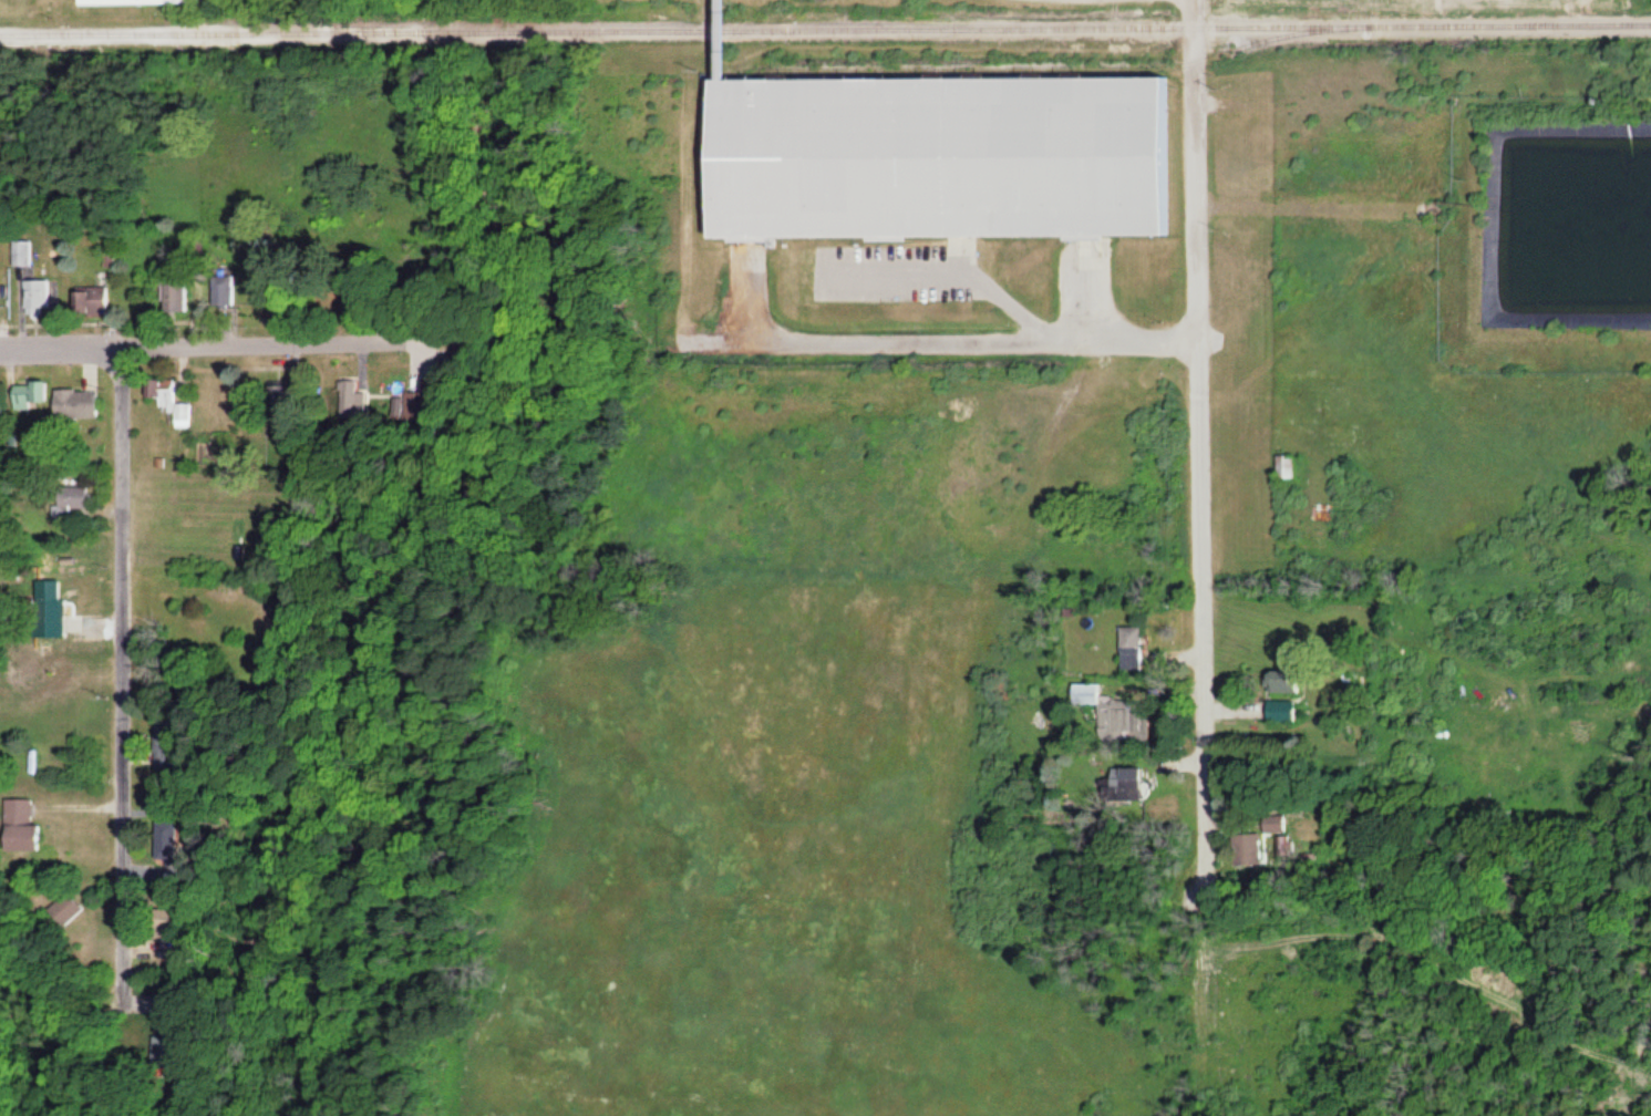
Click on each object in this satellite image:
building: (128, 2)
railway: (825, 28)
railway: (1039, 68)
building: (931, 154)
building: (24, 251)
building: (220, 290)
building: (45, 294)
building: (102, 296)
building: (172, 296)
building: (1, 310)
road: (941, 337)
road: (206, 342)
building: (31, 394)
building: (168, 400)
building: (82, 402)
building: (1283, 466)
building: (76, 499)
road: (1187, 558)
building: (228, 585)
building: (58, 612)
building: (1129, 648)
road: (122, 663)
building: (1280, 681)
building: (1110, 710)
building: (1280, 710)
building: (1125, 782)
building: (1275, 824)
building: (25, 826)
building: (1247, 851)
building: (71, 907)

